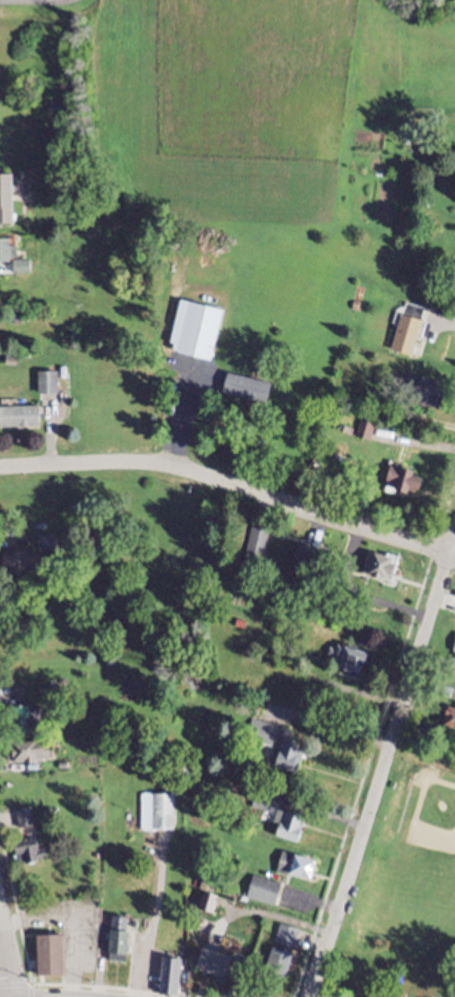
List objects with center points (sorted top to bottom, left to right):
road: (34, 3)
crop: (245, 117)
building: (11, 201)
building: (21, 264)
building: (452, 286)
building: (193, 333)
building: (402, 334)
building: (51, 385)
building: (240, 392)
building: (411, 393)
building: (23, 418)
road: (439, 428)
building: (360, 434)
road: (228, 483)
building: (398, 485)
road: (448, 504)
building: (254, 544)
building: (14, 566)
building: (381, 573)
building: (451, 663)
building: (346, 665)
building: (446, 723)
building: (12, 725)
building: (274, 750)
building: (23, 756)
road: (381, 764)
road: (364, 773)
building: (156, 816)
building: (22, 819)
building: (285, 826)
building: (21, 856)
park: (414, 863)
building: (292, 870)
building: (261, 894)
road: (16, 913)
building: (287, 941)
building: (112, 943)
building: (44, 960)
building: (275, 968)
road: (4, 972)
building: (166, 979)
road: (70, 990)

